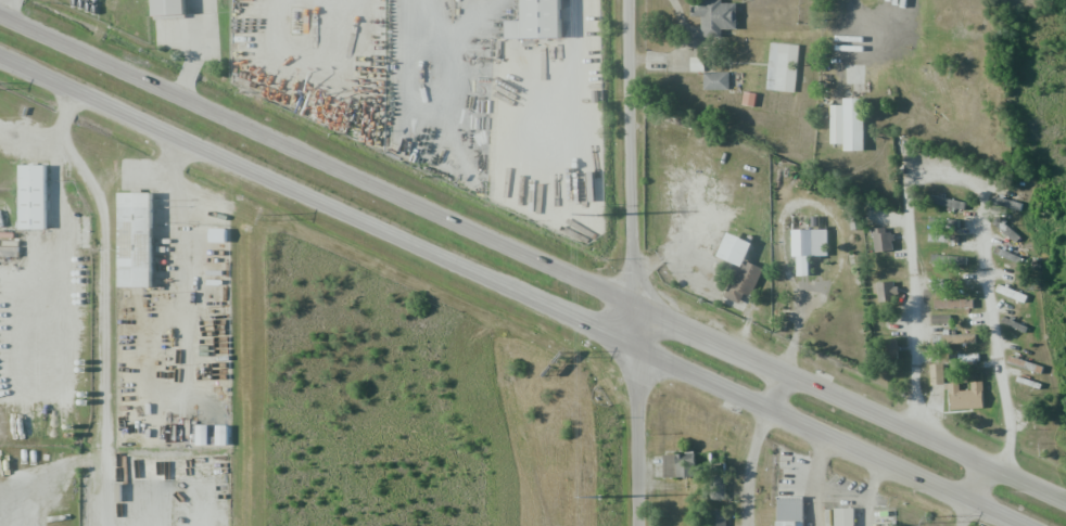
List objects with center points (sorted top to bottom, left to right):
building: (175, 9)
road: (13, 10)
building: (714, 15)
building: (549, 22)
road: (204, 51)
building: (782, 66)
building: (715, 80)
building: (847, 124)
road: (964, 176)
building: (41, 198)
building: (944, 201)
building: (1005, 202)
power tower: (270, 219)
power tower: (595, 221)
building: (944, 233)
building: (881, 239)
building: (141, 244)
building: (808, 246)
road: (533, 258)
building: (948, 260)
road: (634, 262)
building: (739, 267)
building: (885, 291)
road: (513, 292)
building: (1010, 292)
building: (952, 303)
building: (939, 319)
building: (1013, 324)
building: (953, 338)
building: (890, 348)
power tower: (570, 354)
building: (1019, 362)
road: (774, 389)
building: (678, 465)
road: (975, 482)
building: (716, 486)
power tower: (600, 496)
building: (789, 511)
building: (718, 516)
building: (843, 516)
power tower: (929, 519)

